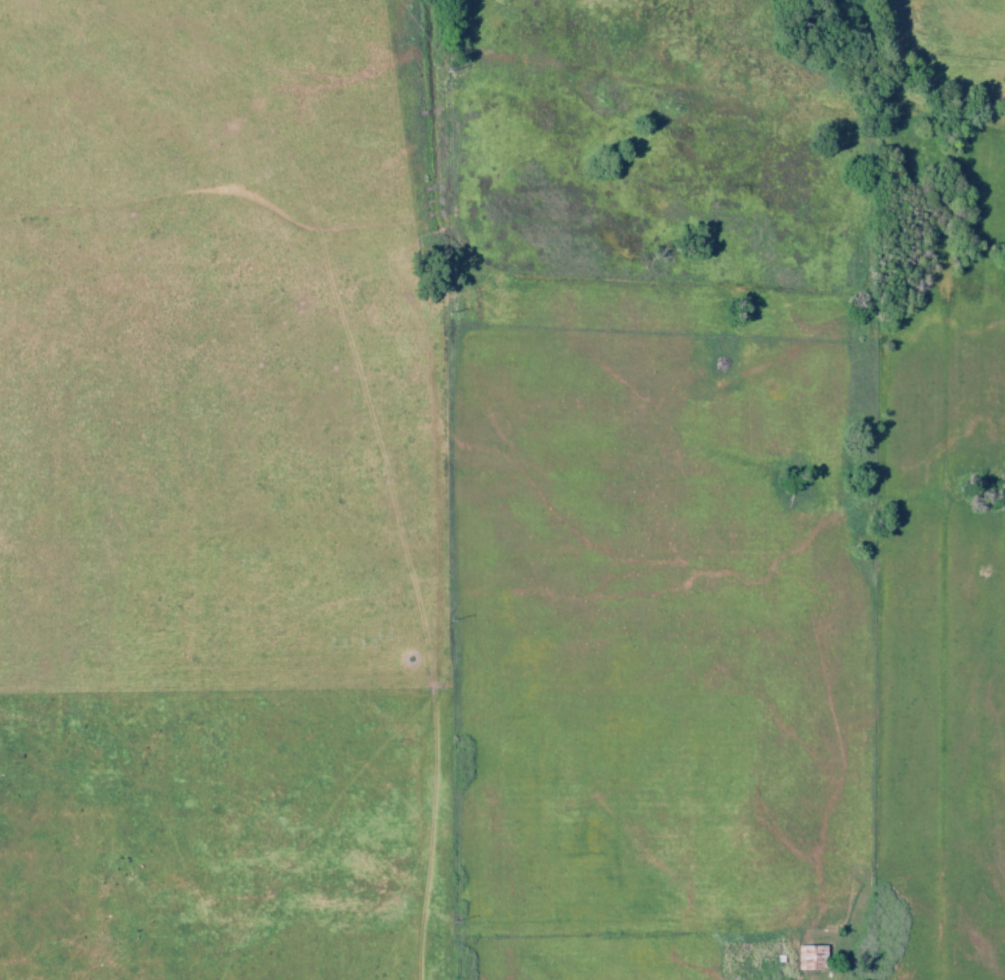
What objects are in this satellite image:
building: (809, 957)

